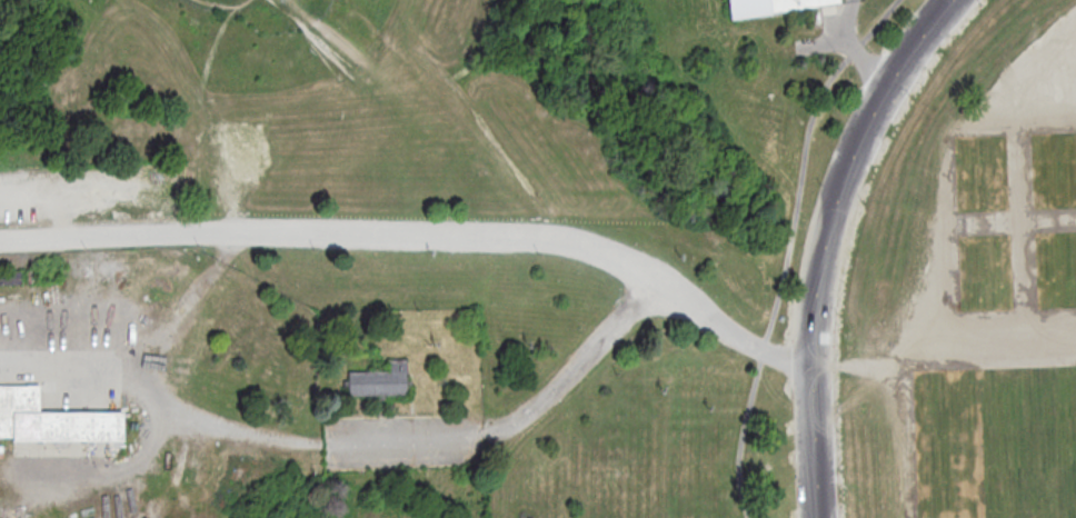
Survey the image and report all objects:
road: (220, 6)
building: (765, 6)
road: (321, 34)
road: (313, 41)
road: (823, 42)
road: (853, 47)
road: (210, 52)
park: (1053, 169)
park: (979, 171)
parking lot: (90, 192)
road: (66, 226)
road: (525, 232)
road: (823, 241)
road: (788, 247)
park: (538, 259)
park: (1054, 269)
park: (985, 272)
building: (8, 276)
road: (193, 292)
parking lot: (614, 322)
building: (378, 379)
road: (149, 381)
building: (50, 419)
road: (512, 419)
parking lot: (398, 440)
park: (997, 441)
road: (103, 471)

